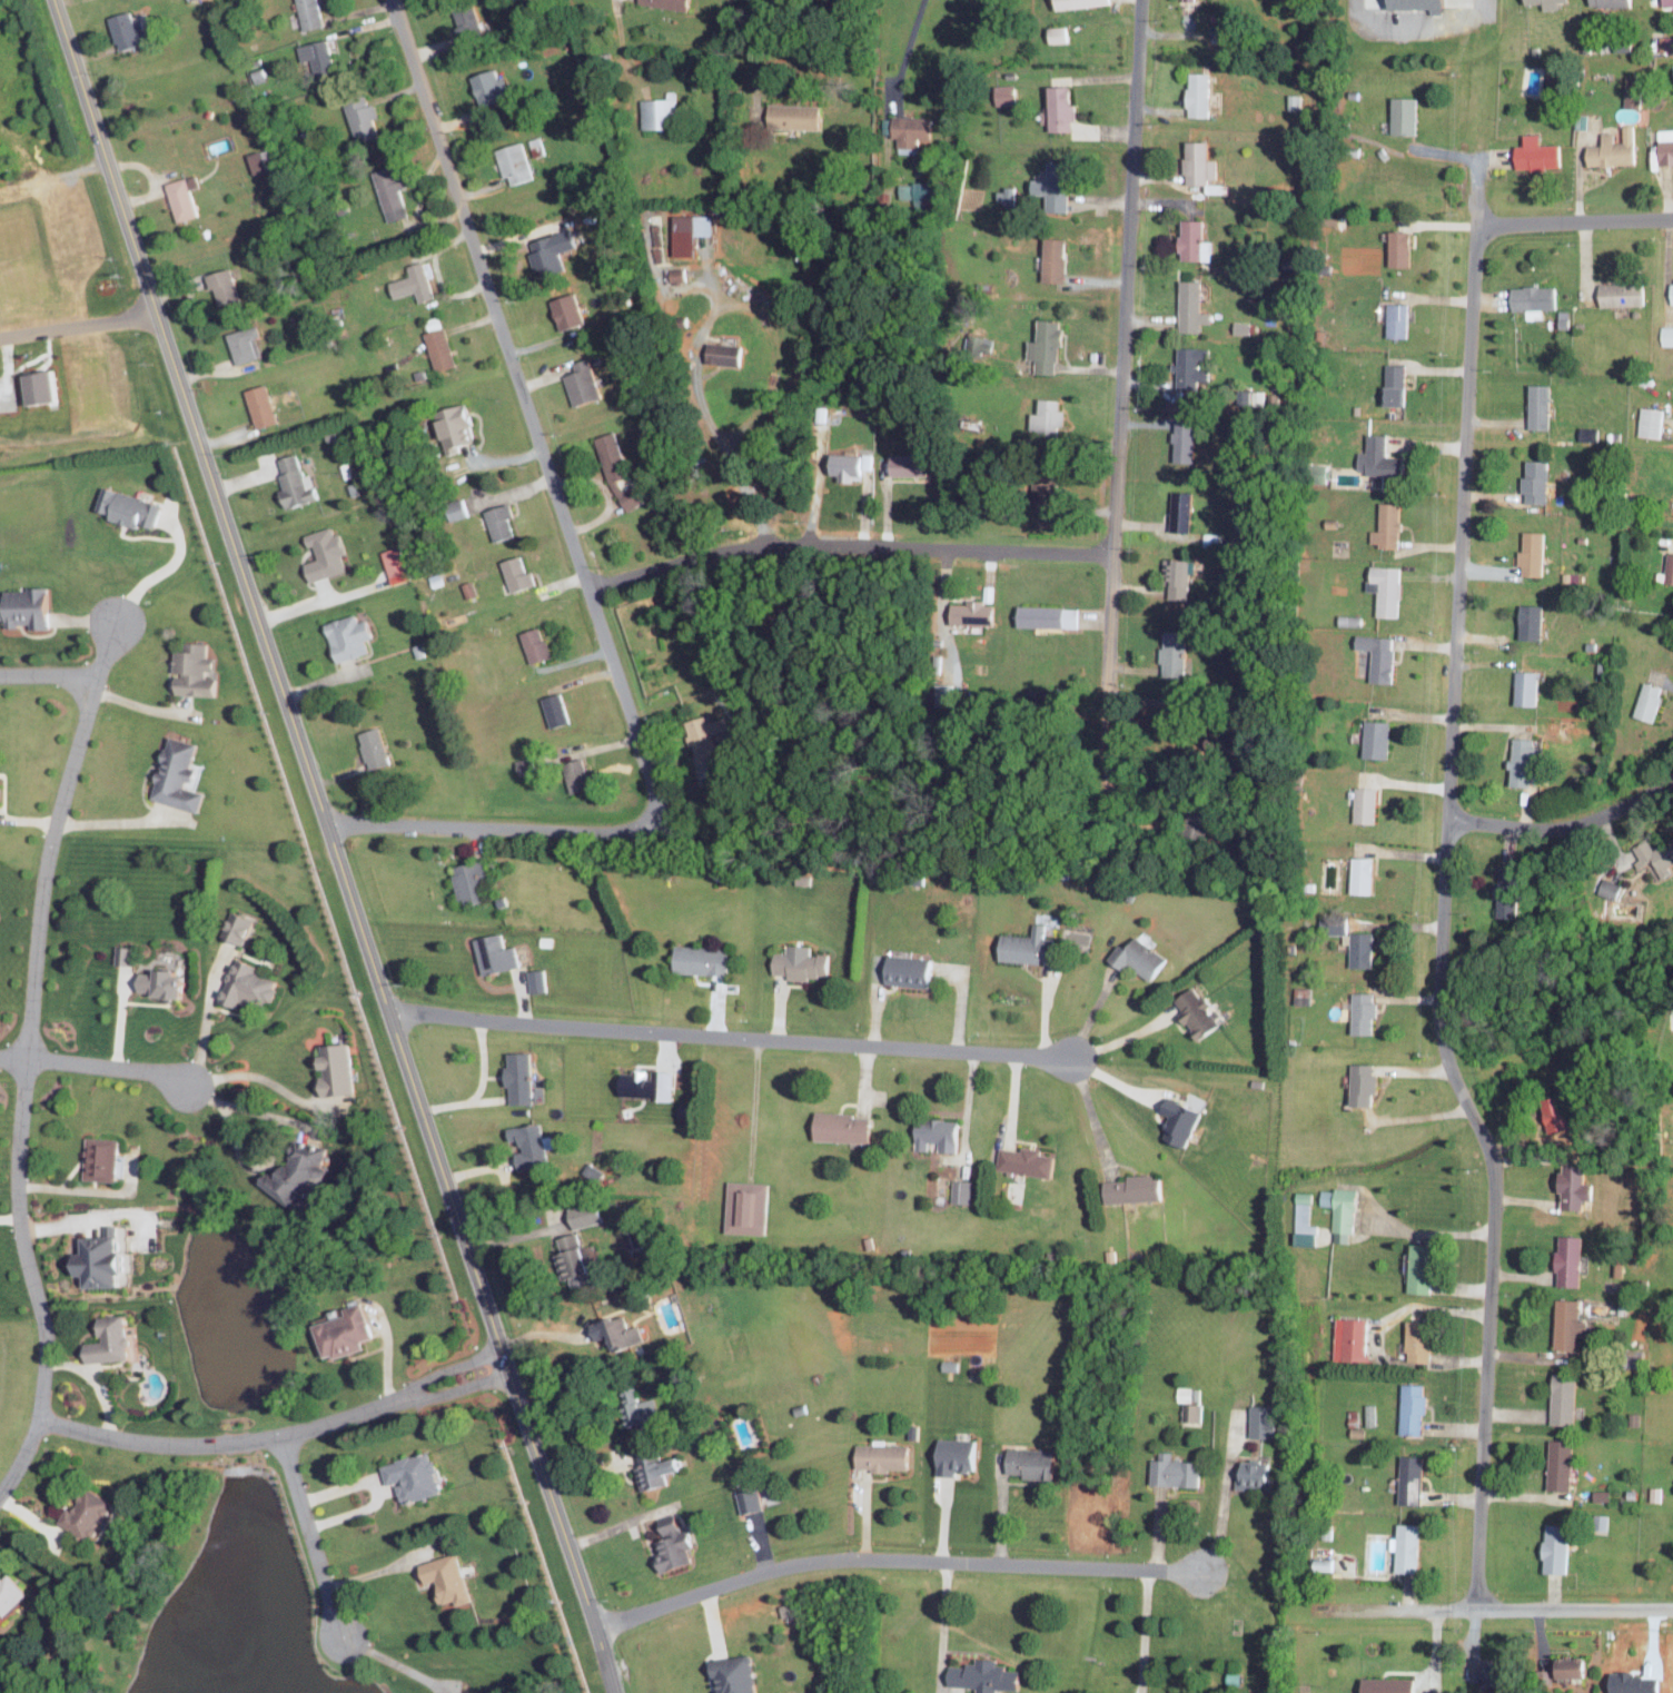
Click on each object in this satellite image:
building: (1180, 0)
road: (1487, 2)
building: (1605, 2)
building: (1665, 2)
building: (673, 3)
building: (1082, 3)
building: (1541, 3)
building: (1412, 4)
building: (313, 13)
building: (469, 20)
road: (1414, 29)
building: (129, 30)
building: (1060, 33)
road: (749, 47)
road: (907, 49)
building: (321, 58)
building: (1008, 93)
building: (1194, 93)
building: (1063, 108)
building: (662, 113)
building: (1399, 115)
building: (800, 116)
building: (365, 119)
building: (912, 130)
building: (1663, 145)
building: (1610, 149)
building: (1531, 154)
building: (259, 161)
building: (1194, 162)
building: (517, 164)
road: (1473, 164)
building: (1057, 186)
building: (394, 192)
building: (1007, 195)
building: (185, 197)
road: (1574, 221)
building: (694, 232)
building: (1186, 239)
building: (1394, 247)
building: (554, 251)
building: (1056, 259)
building: (682, 276)
building: (416, 283)
building: (227, 287)
building: (1670, 290)
building: (1616, 294)
building: (1530, 299)
building: (1187, 306)
building: (571, 311)
building: (1393, 319)
road: (704, 323)
road: (79, 324)
building: (1665, 335)
building: (247, 344)
building: (1048, 346)
building: (443, 349)
building: (727, 354)
building: (585, 384)
building: (1389, 384)
building: (265, 406)
building: (1534, 406)
road: (533, 416)
building: (1050, 416)
building: (1646, 424)
building: (461, 428)
road: (1122, 433)
building: (1178, 443)
building: (1373, 456)
building: (852, 465)
building: (911, 465)
building: (622, 473)
building: (1531, 481)
building: (298, 483)
building: (132, 507)
building: (459, 508)
building: (1175, 511)
building: (504, 522)
building: (1383, 525)
road: (850, 544)
road: (1666, 544)
building: (1528, 553)
building: (328, 554)
building: (397, 565)
building: (1667, 568)
road: (157, 573)
building: (521, 574)
building: (1172, 577)
building: (1380, 588)
building: (29, 608)
building: (977, 614)
building: (1051, 616)
building: (1526, 622)
building: (353, 636)
building: (539, 645)
building: (1374, 655)
building: (1168, 660)
building: (197, 670)
road: (48, 673)
building: (1522, 687)
building: (1645, 701)
road: (143, 707)
building: (558, 710)
building: (706, 736)
building: (1370, 739)
building: (377, 749)
building: (1516, 761)
building: (528, 765)
building: (181, 775)
building: (581, 775)
building: (2, 791)
building: (1360, 804)
road: (1565, 818)
road: (113, 821)
road: (581, 831)
road: (335, 845)
building: (1652, 857)
building: (1356, 875)
building: (474, 882)
building: (1605, 888)
road: (1445, 922)
building: (240, 925)
building: (1030, 944)
building: (1358, 948)
building: (127, 953)
building: (498, 953)
building: (705, 958)
building: (1138, 958)
building: (805, 963)
building: (914, 969)
building: (539, 979)
building: (166, 982)
building: (250, 983)
road: (1092, 1011)
building: (1190, 1012)
building: (1359, 1012)
road: (119, 1014)
road: (205, 1020)
road: (731, 1036)
road: (1127, 1037)
road: (24, 1060)
road: (96, 1063)
building: (339, 1069)
road: (250, 1073)
building: (522, 1077)
building: (650, 1082)
building: (1358, 1085)
road: (477, 1087)
road: (1011, 1096)
road: (753, 1106)
road: (248, 1110)
road: (967, 1111)
road: (1090, 1112)
building: (1172, 1121)
building: (847, 1126)
building: (942, 1132)
building: (532, 1142)
building: (105, 1158)
building: (1029, 1160)
building: (300, 1171)
building: (1568, 1187)
building: (1131, 1188)
road: (81, 1189)
building: (964, 1190)
building: (751, 1207)
building: (1337, 1209)
building: (1301, 1211)
building: (588, 1214)
road: (10, 1217)
road: (1422, 1232)
road: (516, 1235)
building: (1300, 1238)
building: (109, 1258)
building: (580, 1260)
building: (1564, 1260)
building: (1413, 1267)
building: (1565, 1324)
building: (621, 1330)
building: (347, 1331)
road: (1377, 1336)
building: (1347, 1338)
building: (116, 1339)
building: (1413, 1340)
building: (954, 1365)
road: (446, 1369)
road: (453, 1390)
road: (574, 1392)
building: (1558, 1398)
building: (1408, 1407)
building: (647, 1409)
building: (1192, 1412)
building: (1255, 1420)
road: (219, 1444)
building: (887, 1455)
building: (960, 1455)
building: (1035, 1462)
building: (1556, 1464)
building: (657, 1468)
building: (1169, 1469)
building: (416, 1476)
building: (1407, 1478)
road: (382, 1486)
road: (1222, 1495)
building: (752, 1501)
building: (88, 1514)
road: (616, 1526)
road: (310, 1537)
building: (676, 1543)
building: (1402, 1546)
building: (1551, 1550)
road: (895, 1560)
road: (377, 1571)
building: (449, 1577)
building: (12, 1592)
road: (1575, 1611)
road: (943, 1623)
road: (1437, 1624)
road: (1146, 1631)
road: (394, 1662)
building: (1561, 1666)
building: (739, 1674)
building: (988, 1675)
building: (1380, 1684)

